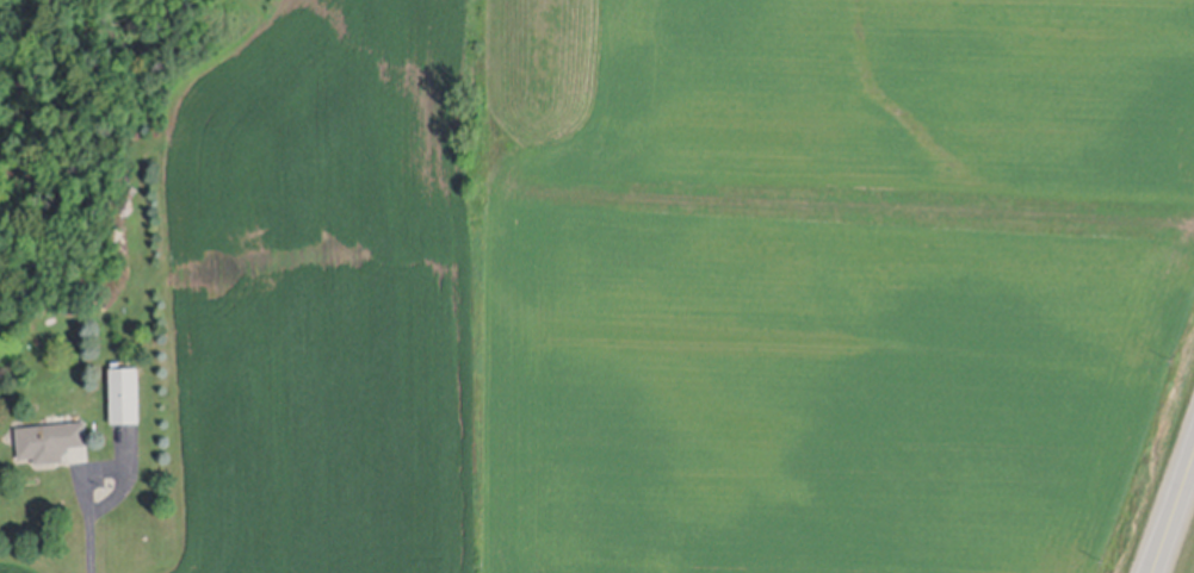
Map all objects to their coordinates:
quarry: (835, 286)
building: (125, 403)
building: (50, 447)
road: (1173, 513)
road: (91, 527)

